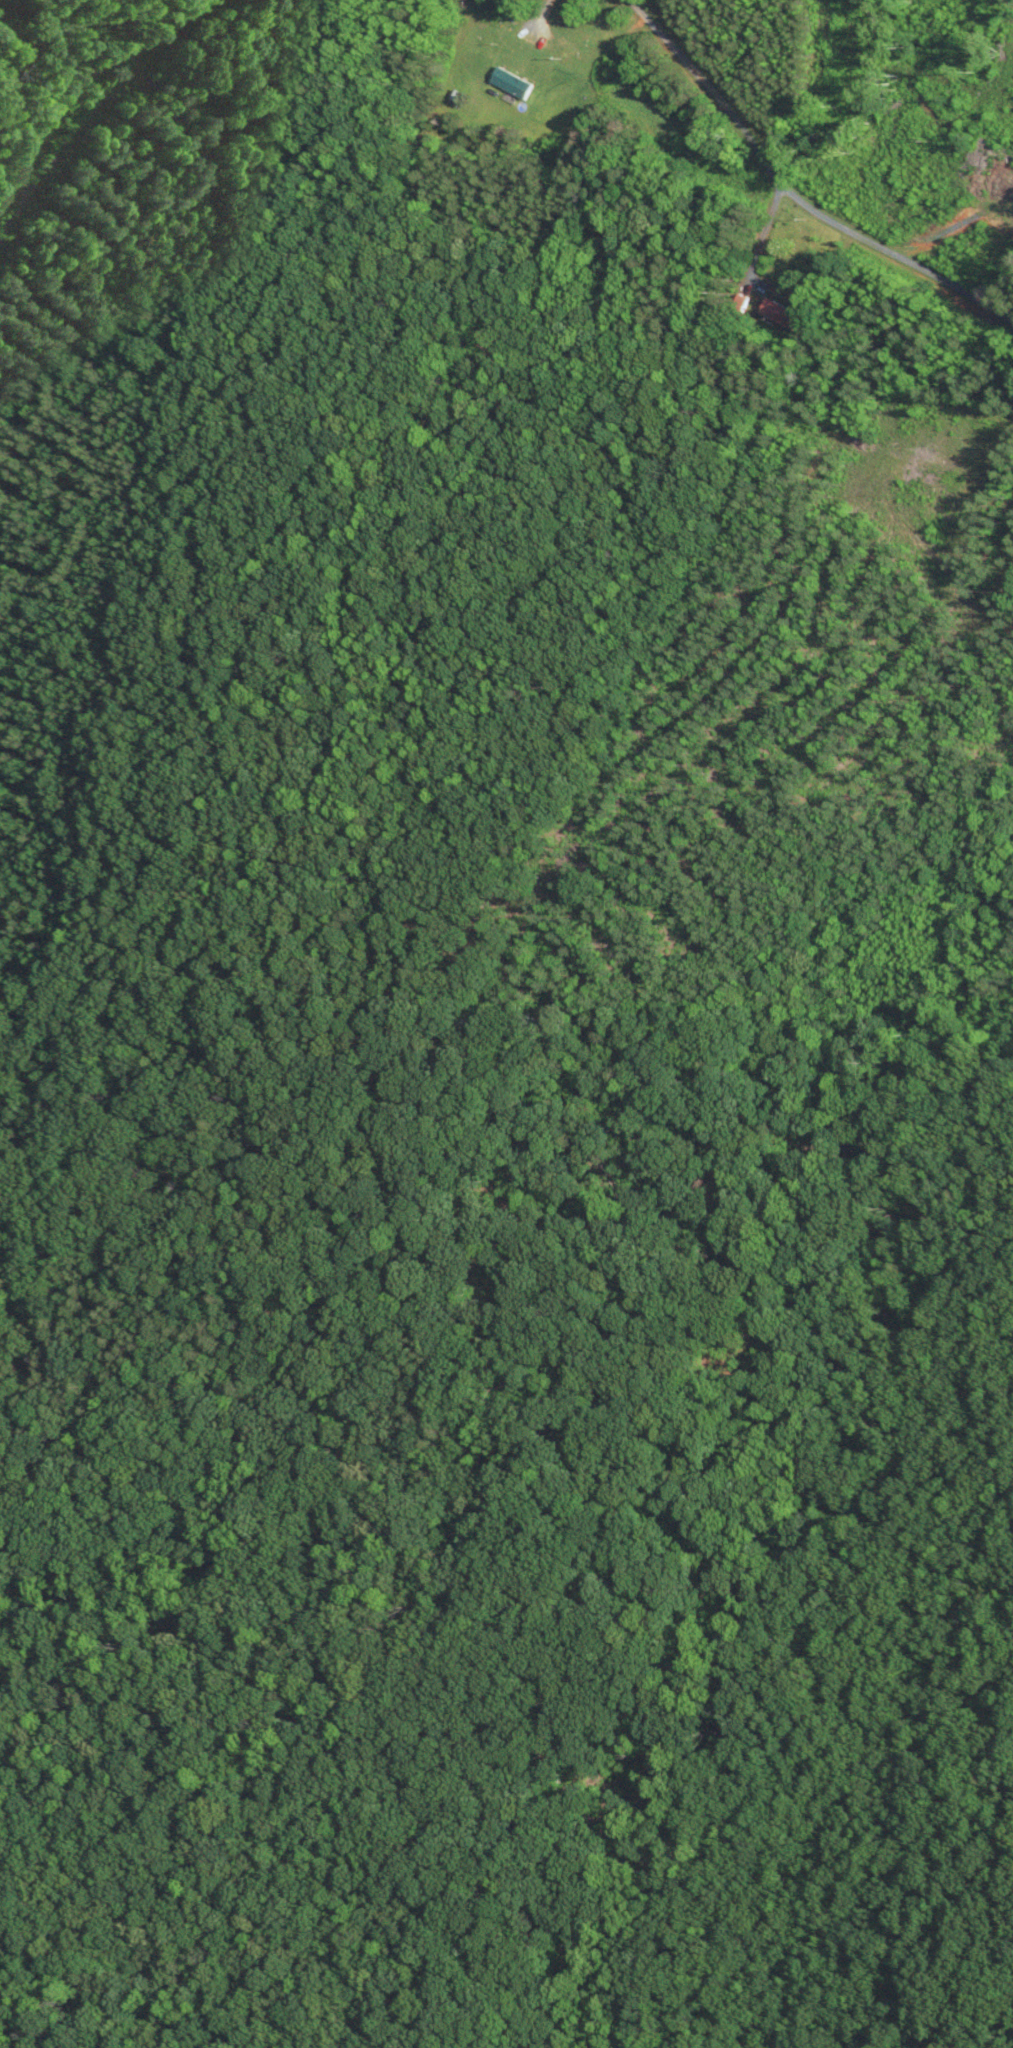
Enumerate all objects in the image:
road: (540, 16)
road: (793, 192)
road: (763, 234)
road: (400, 1529)
road: (966, 1886)

